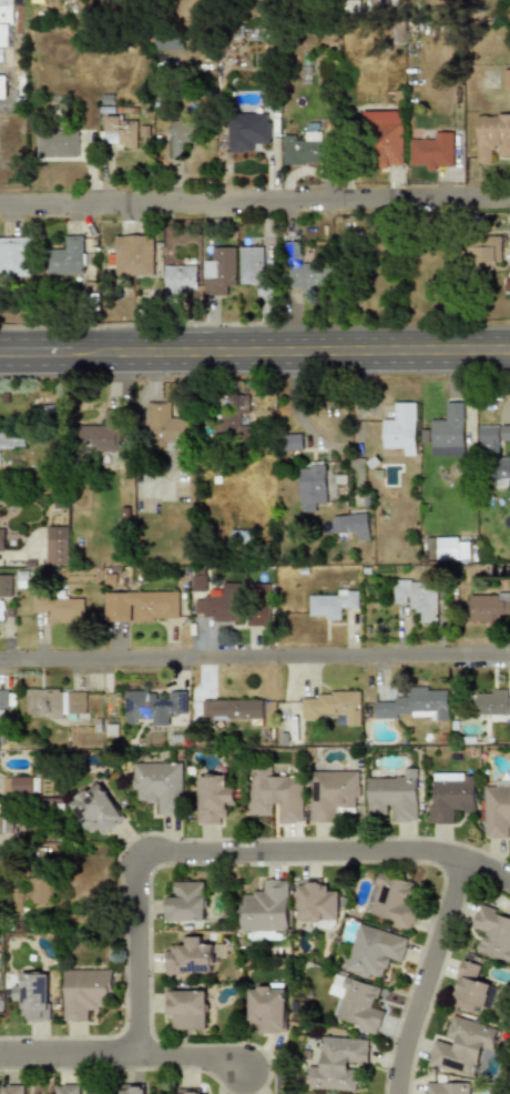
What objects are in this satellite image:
building: (6, 24)
building: (166, 43)
building: (507, 79)
building: (1, 87)
building: (118, 131)
building: (246, 131)
building: (180, 135)
building: (491, 135)
building: (384, 138)
building: (57, 144)
building: (302, 149)
building: (432, 152)
road: (255, 201)
building: (482, 252)
building: (132, 254)
building: (67, 255)
building: (14, 256)
building: (509, 259)
building: (253, 267)
building: (218, 271)
building: (305, 277)
building: (177, 280)
road: (254, 337)
road: (255, 363)
building: (237, 416)
building: (166, 426)
building: (400, 428)
building: (447, 430)
building: (101, 435)
building: (12, 439)
building: (293, 442)
building: (494, 452)
building: (312, 484)
building: (350, 526)
building: (239, 537)
building: (2, 538)
building: (57, 545)
building: (452, 548)
building: (197, 579)
building: (6, 585)
building: (418, 597)
building: (331, 602)
building: (288, 604)
building: (258, 605)
building: (141, 606)
building: (489, 606)
building: (59, 607)
building: (222, 608)
road: (255, 671)
building: (4, 697)
building: (55, 702)
building: (492, 703)
building: (145, 705)
building: (337, 705)
building: (414, 705)
building: (232, 709)
building: (23, 784)
building: (157, 784)
building: (333, 793)
building: (453, 794)
building: (275, 796)
building: (396, 796)
building: (213, 799)
building: (96, 808)
building: (497, 810)
building: (1, 822)
road: (227, 848)
building: (33, 889)
building: (391, 901)
building: (184, 902)
building: (317, 903)
building: (266, 910)
building: (493, 932)
building: (374, 951)
building: (187, 958)
road: (427, 974)
building: (471, 989)
building: (85, 992)
building: (33, 995)
building: (0, 1005)
building: (358, 1005)
building: (267, 1007)
building: (187, 1009)
building: (462, 1045)
road: (68, 1050)
road: (191, 1052)
building: (339, 1063)
building: (445, 1086)
building: (11, 1088)
building: (67, 1088)
building: (133, 1088)
building: (191, 1092)
building: (96, 1093)

